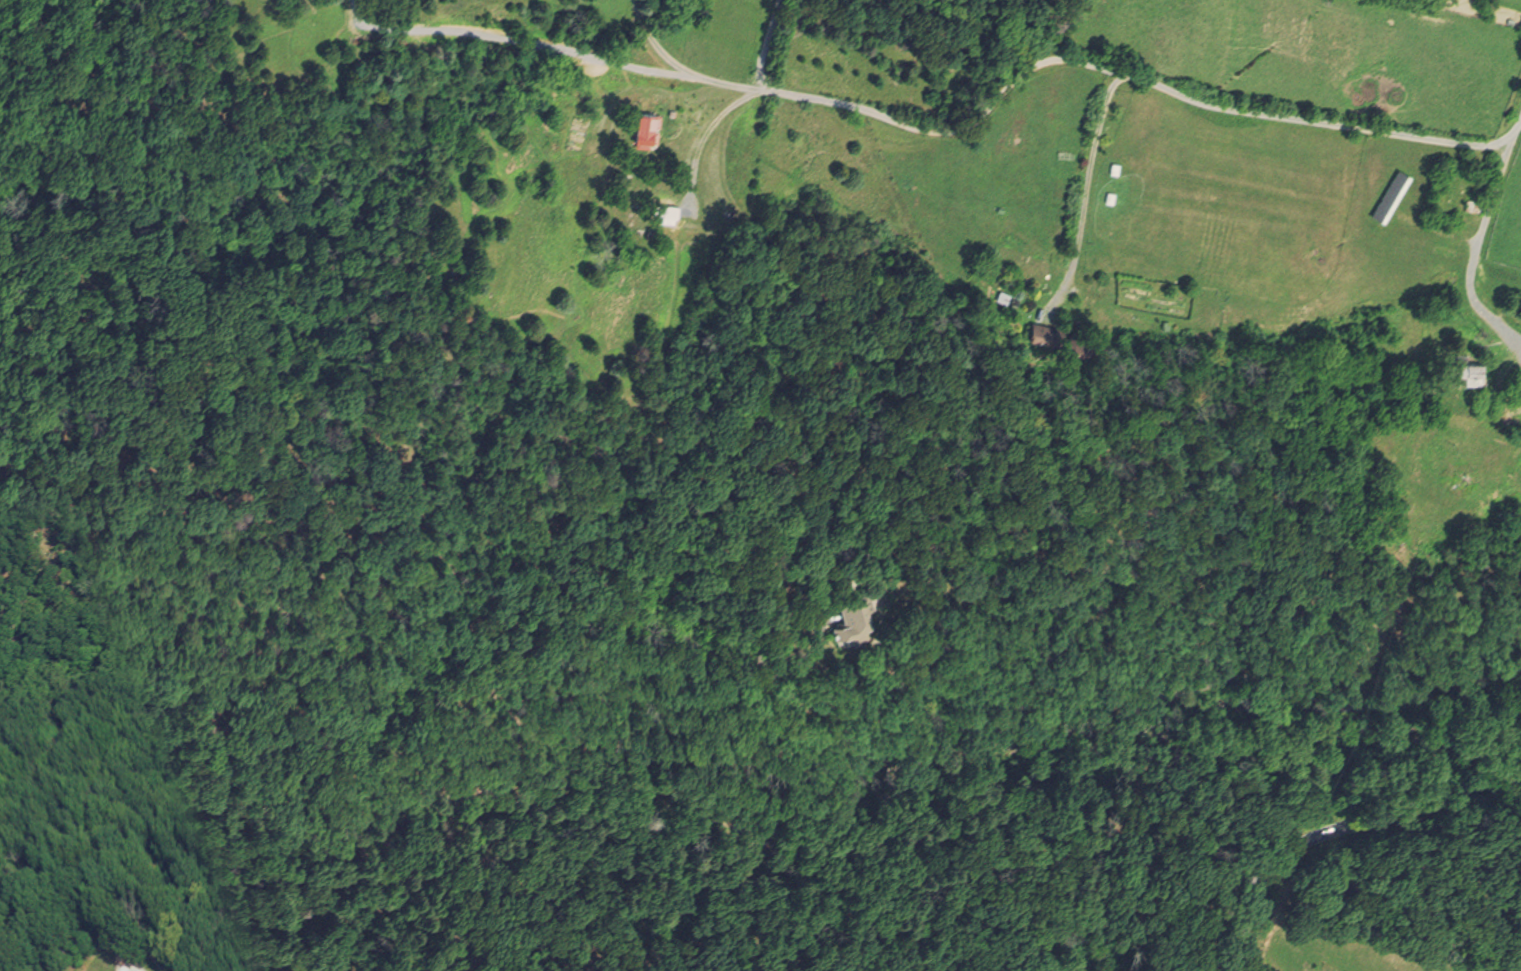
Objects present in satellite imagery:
road: (658, 44)
road: (764, 44)
building: (646, 123)
road: (708, 129)
road: (949, 130)
road: (1090, 188)
building: (1388, 189)
building: (665, 205)
road: (1474, 251)
building: (1063, 336)
building: (1463, 370)
building: (1514, 380)
building: (853, 617)
road: (812, 651)
road: (1067, 680)
road: (1342, 829)
building: (153, 953)
building: (175, 966)

